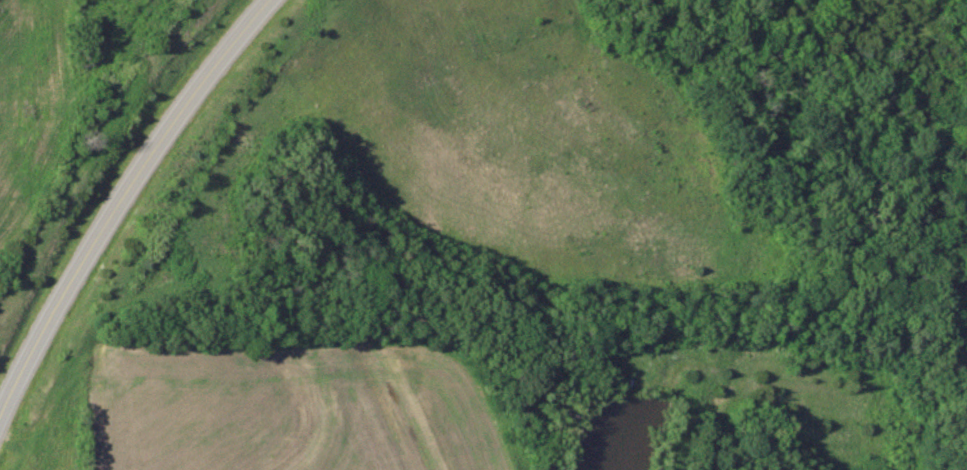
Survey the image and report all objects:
road: (121, 201)

